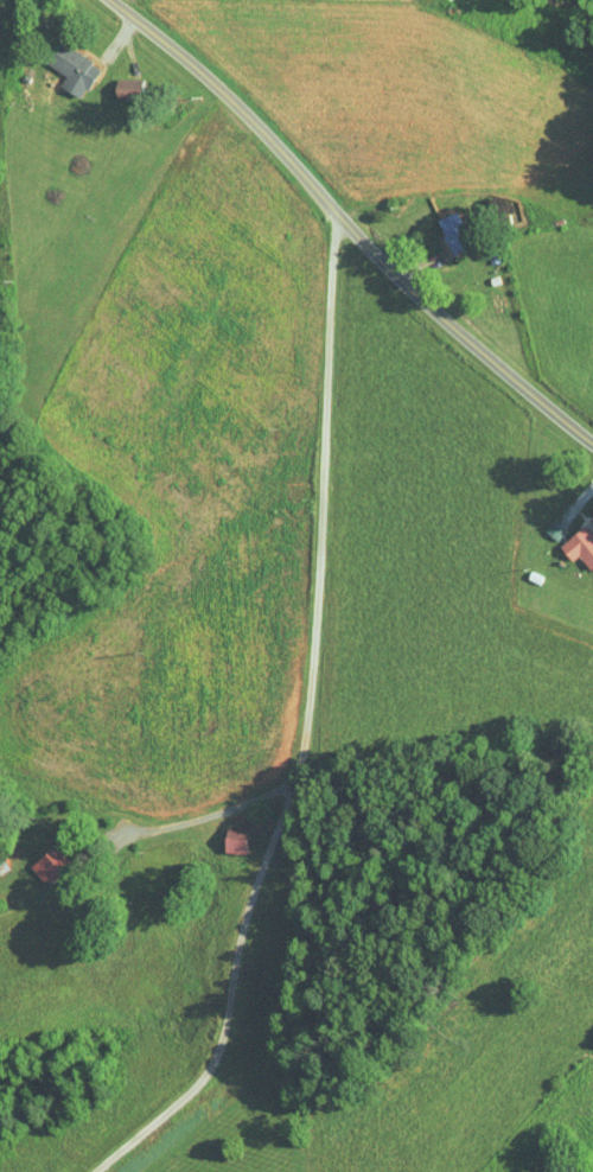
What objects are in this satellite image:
building: (56, 58)
building: (436, 224)
road: (350, 227)
building: (568, 539)
road: (306, 727)
road: (206, 814)
building: (218, 832)

